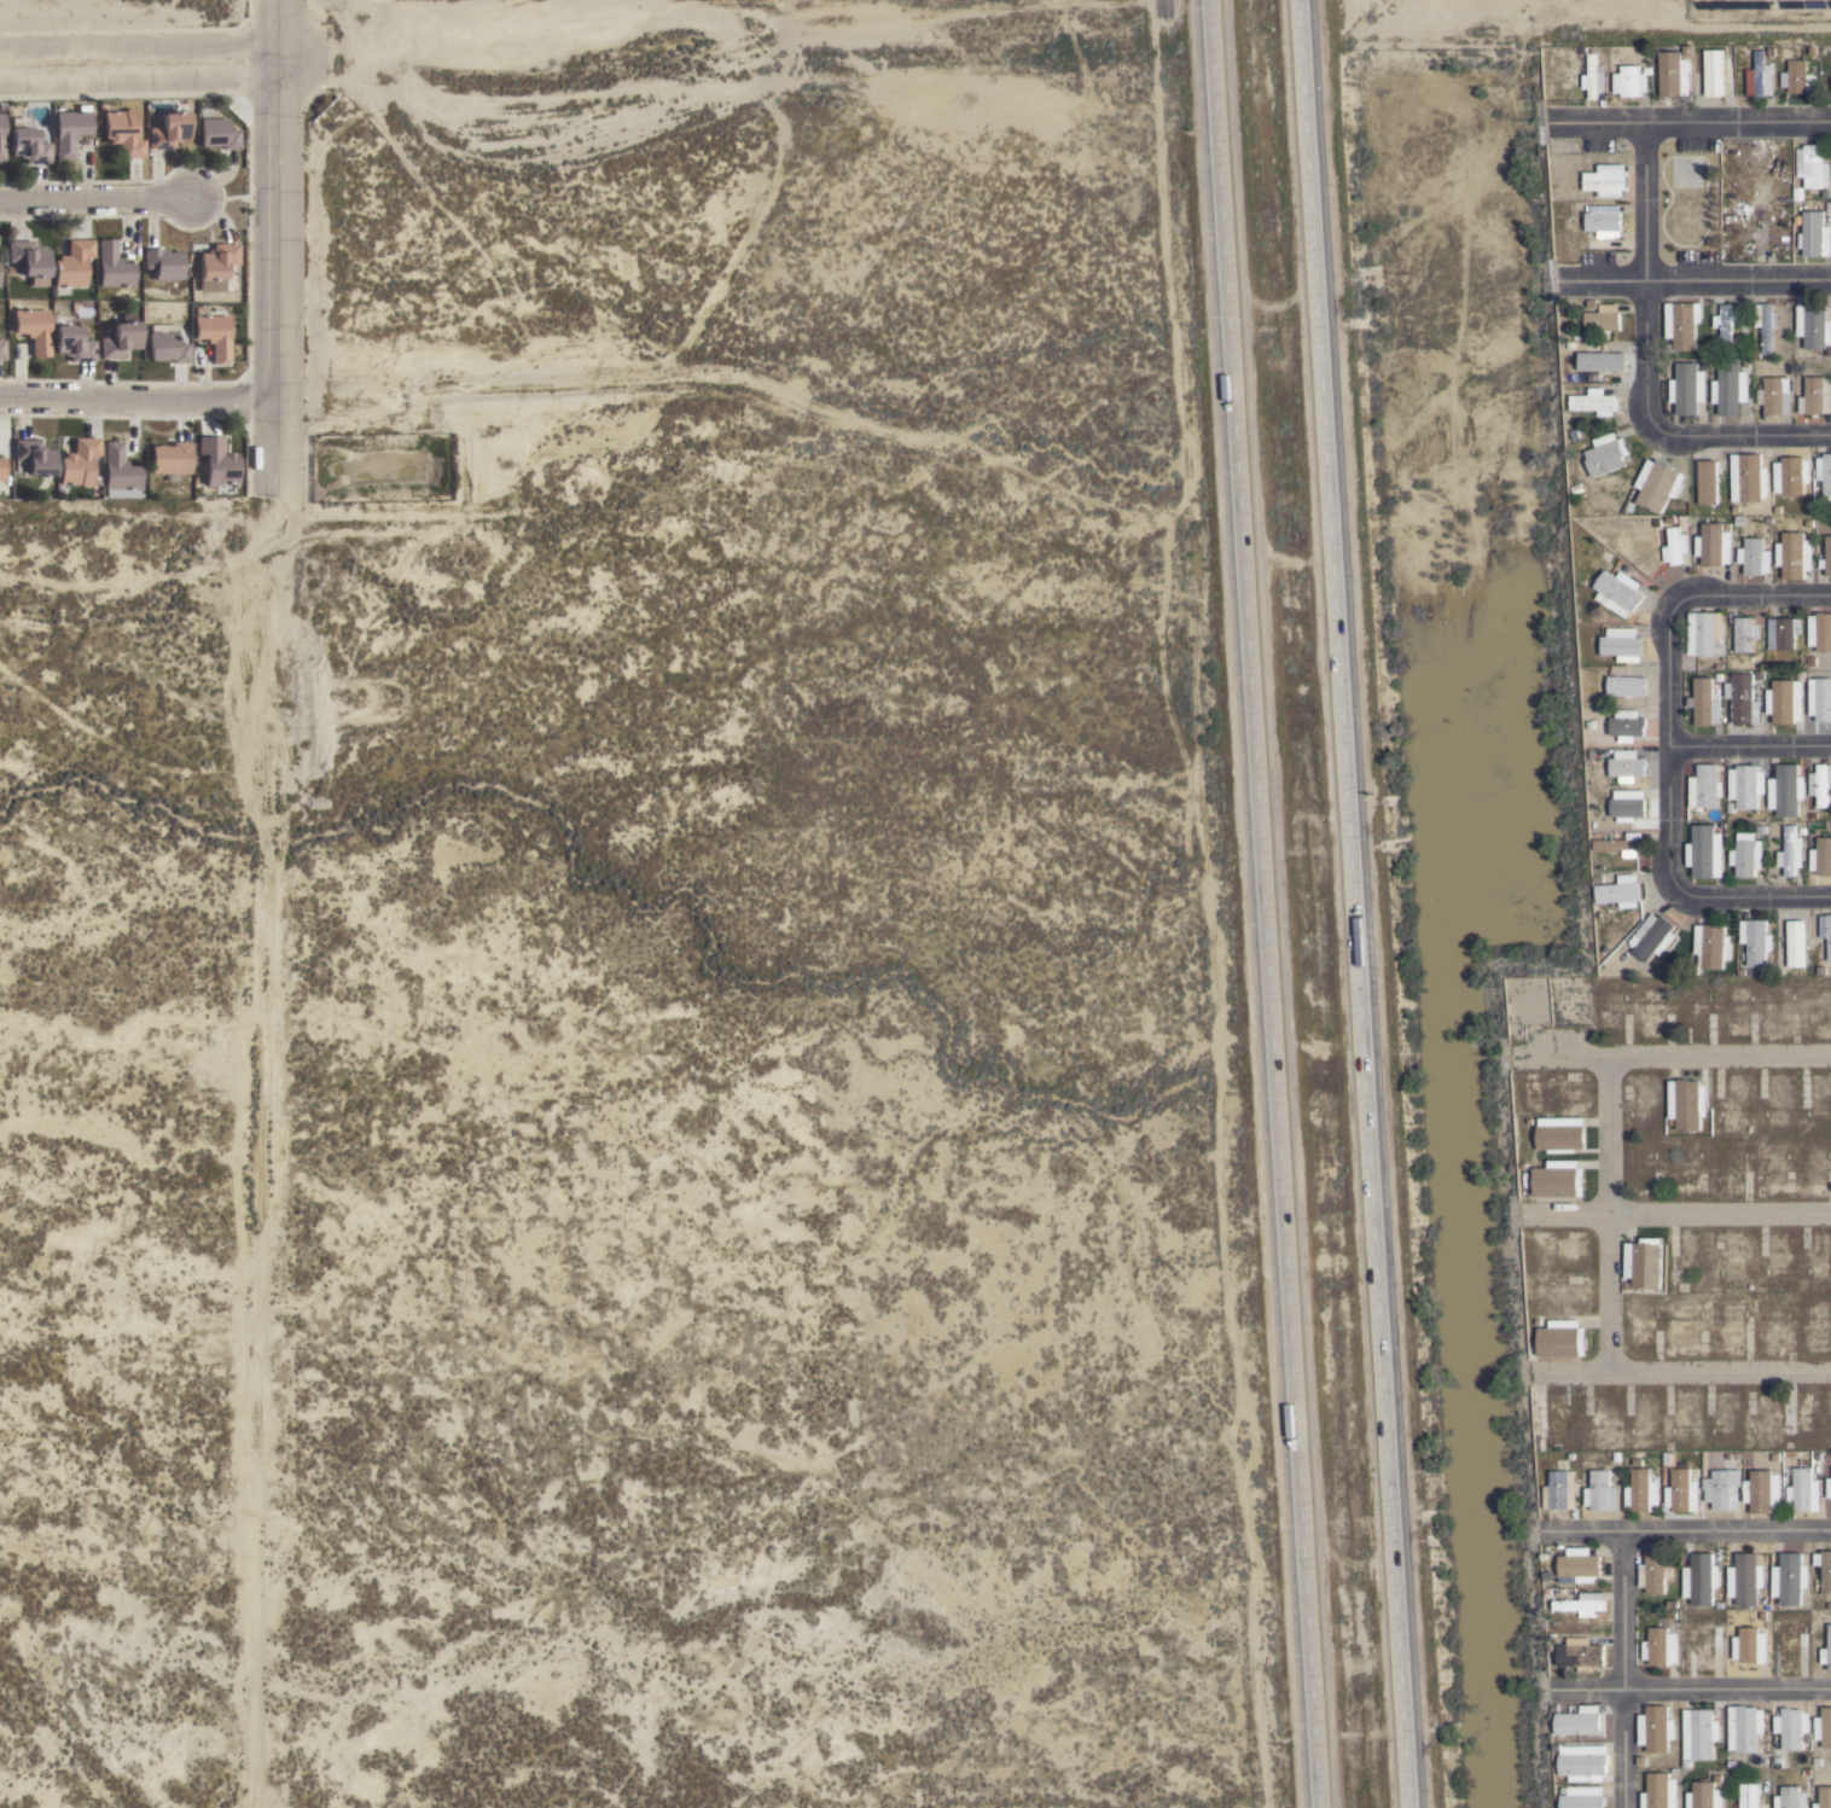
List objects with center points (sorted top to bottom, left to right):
road: (1163, 7)
solar farm: (1762, 12)
road: (1656, 31)
building: (1709, 74)
building: (1591, 75)
building: (1666, 75)
building: (1757, 75)
building: (1792, 77)
building: (1628, 82)
building: (1807, 83)
road: (145, 88)
building: (13, 114)
building: (72, 115)
road: (1691, 116)
building: (82, 138)
building: (180, 138)
building: (134, 140)
building: (229, 140)
building: (7, 144)
building: (40, 152)
building: (1812, 169)
building: (1602, 182)
road: (101, 209)
building: (1600, 223)
building: (1812, 236)
road: (290, 248)
road: (1639, 263)
building: (42, 268)
building: (85, 272)
building: (176, 272)
building: (124, 274)
road: (1697, 274)
building: (231, 275)
building: (21, 277)
building: (5, 280)
building: (1603, 318)
building: (1724, 327)
building: (1682, 329)
building: (1766, 330)
building: (1813, 330)
building: (46, 336)
building: (225, 339)
building: (133, 347)
building: (85, 349)
building: (179, 350)
building: (7, 354)
building: (1597, 366)
building: (1684, 389)
building: (1726, 391)
building: (1771, 396)
building: (1812, 396)
building: (1591, 403)
road: (145, 409)
road: (1730, 436)
building: (1603, 460)
building: (46, 463)
building: (182, 465)
building: (229, 469)
building: (91, 470)
building: (1641, 473)
building: (7, 476)
building: (130, 477)
building: (1774, 478)
building: (1791, 478)
building: (1826, 478)
building: (1748, 479)
building: (1707, 488)
building: (1655, 489)
building: (74, 498)
building: (110, 502)
building: (1673, 546)
building: (1711, 546)
building: (1826, 554)
building: (1750, 557)
building: (1791, 557)
road: (1284, 560)
road: (1772, 588)
building: (1616, 597)
building: (1704, 633)
building: (1742, 635)
building: (1783, 635)
building: (1821, 635)
building: (1618, 645)
road: (1662, 668)
building: (1623, 685)
building: (1702, 699)
building: (1742, 702)
building: (1781, 703)
building: (1821, 703)
building: (1624, 727)
road: (1748, 740)
building: (1627, 769)
building: (1745, 787)
building: (1820, 789)
building: (1785, 791)
building: (1707, 793)
building: (1769, 795)
building: (1622, 809)
building: (1788, 848)
building: (1702, 855)
building: (1823, 858)
building: (1740, 860)
road: (1704, 888)
building: (1616, 895)
road: (1266, 903)
road: (1354, 903)
road: (1208, 909)
building: (1639, 930)
building: (1652, 940)
building: (1827, 940)
building: (1754, 943)
building: (1796, 943)
building: (1710, 948)
road: (1486, 1010)
road: (1659, 1057)
building: (1701, 1101)
building: (1687, 1106)
building: (1560, 1138)
road: (254, 1150)
building: (1556, 1182)
road: (1495, 1215)
road: (1663, 1215)
road: (1606, 1216)
building: (1643, 1265)
building: (1558, 1343)
road: (1667, 1373)
road: (1507, 1449)
building: (1827, 1487)
building: (1559, 1489)
building: (1720, 1489)
building: (1641, 1490)
building: (1762, 1490)
building: (1599, 1492)
building: (1679, 1492)
building: (1801, 1492)
road: (1670, 1524)
building: (1576, 1563)
building: (1652, 1570)
building: (1825, 1572)
building: (1790, 1579)
building: (1697, 1580)
building: (1743, 1580)
building: (1773, 1581)
building: (1580, 1605)
building: (1748, 1646)
building: (1657, 1647)
building: (1826, 1650)
building: (1577, 1653)
road: (1525, 1665)
road: (1618, 1667)
road: (1679, 1687)
building: (1576, 1721)
building: (1742, 1728)
building: (1791, 1728)
building: (1823, 1728)
building: (1656, 1729)
building: (1639, 1731)
building: (1697, 1734)
building: (1581, 1763)
building: (1659, 1791)
building: (1699, 1796)
building: (1579, 1797)
building: (1790, 1797)

